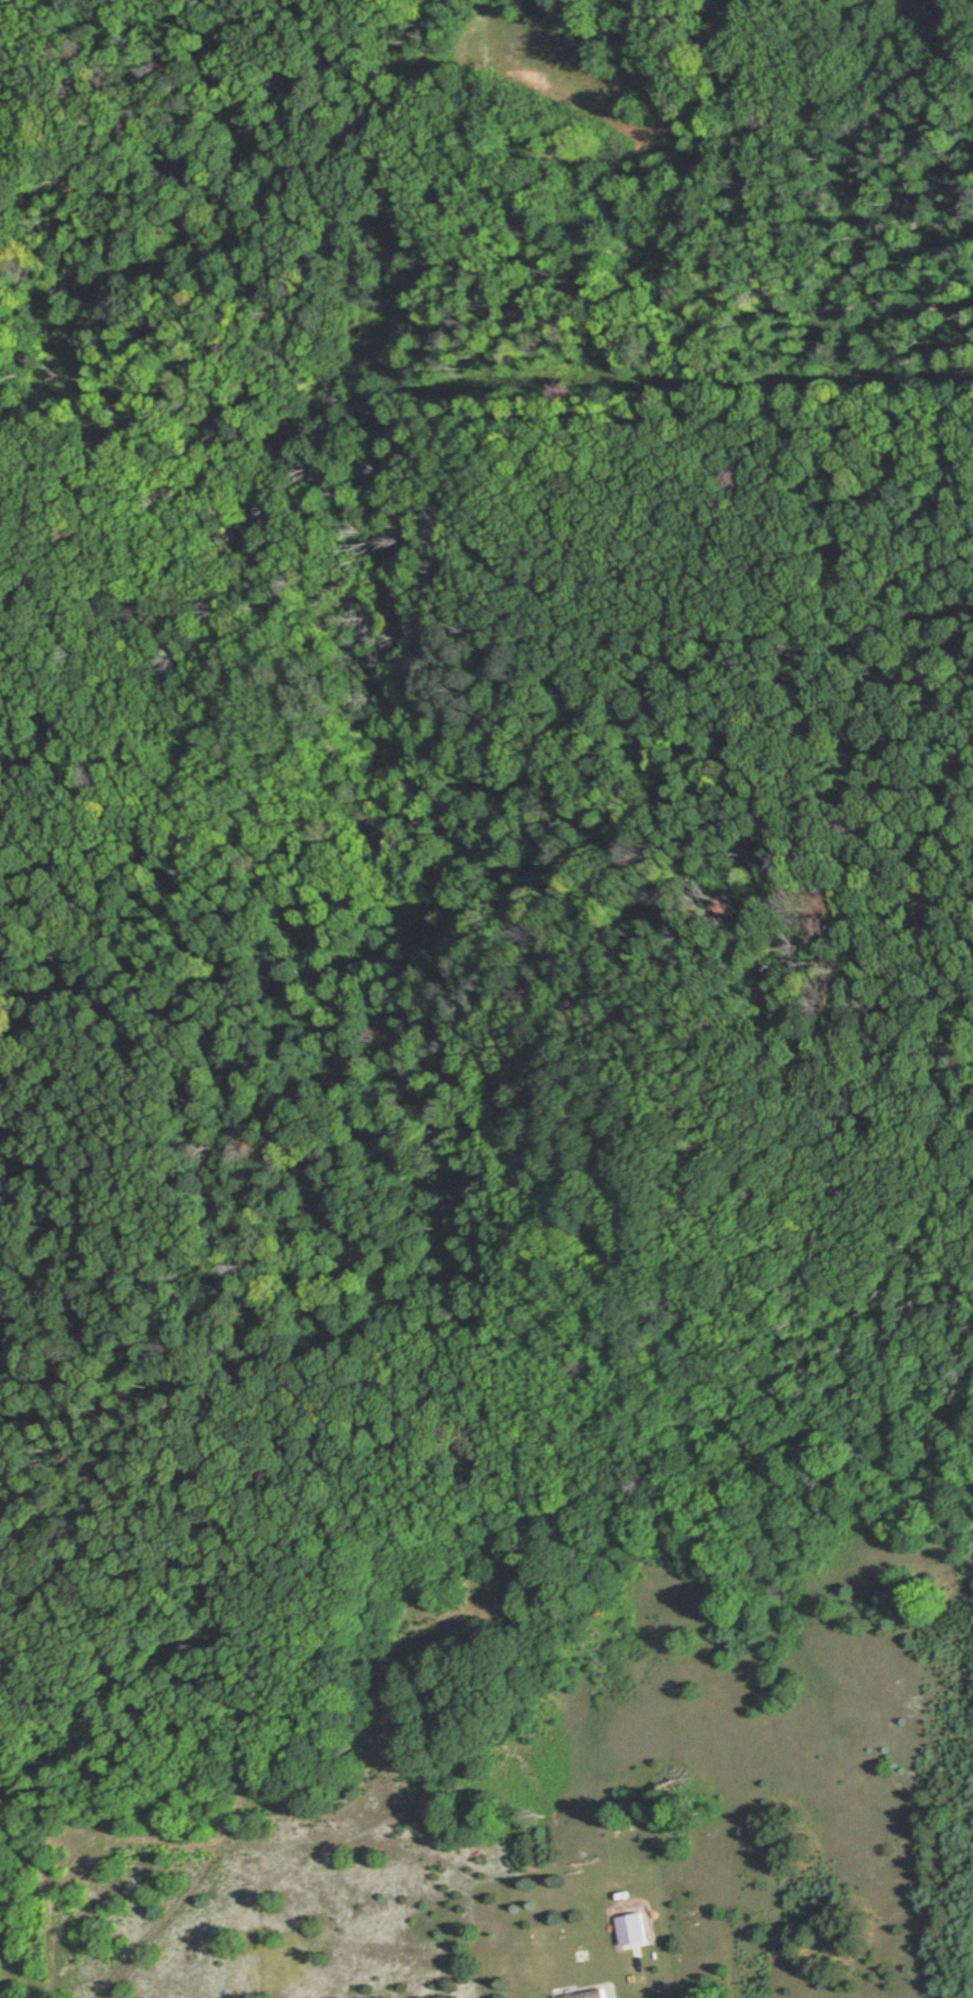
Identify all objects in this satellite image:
building: (634, 1928)
building: (590, 1994)

